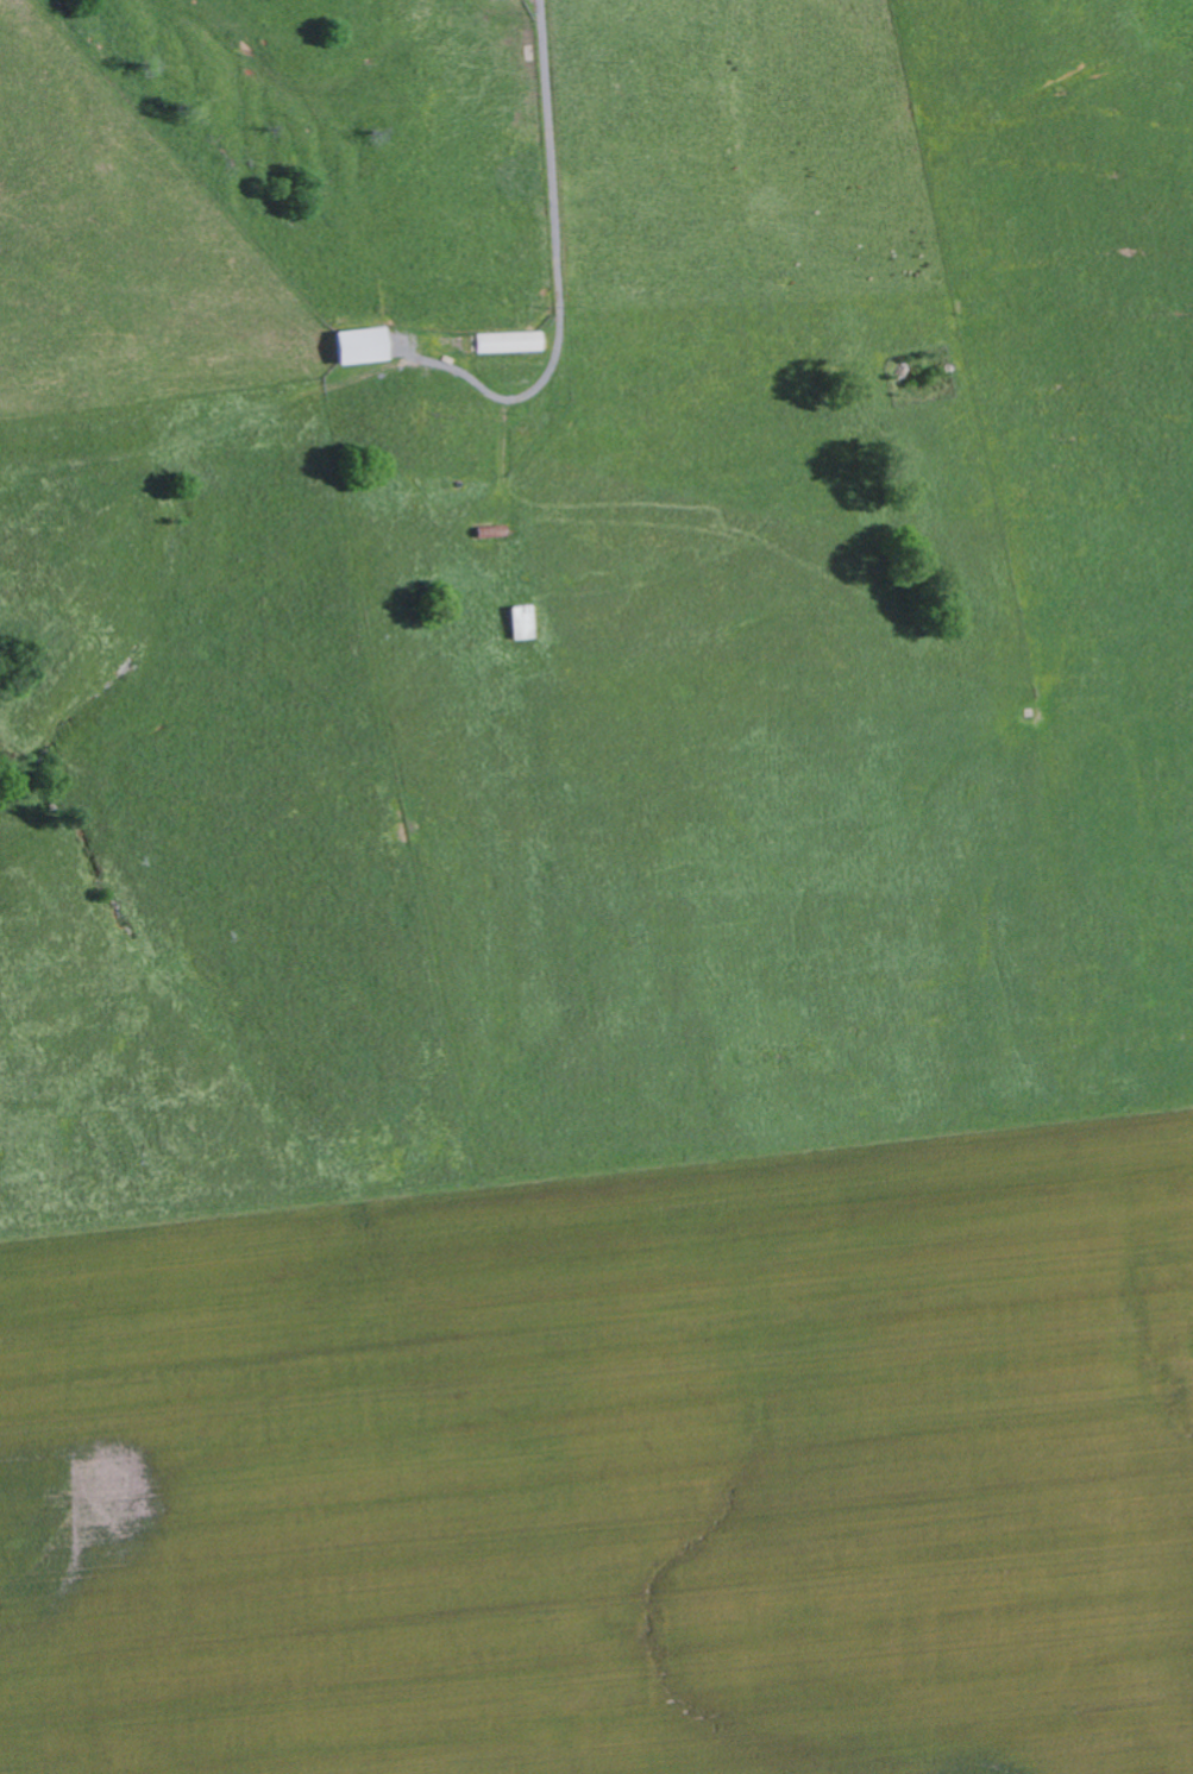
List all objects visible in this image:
building: (504, 342)
building: (357, 347)

